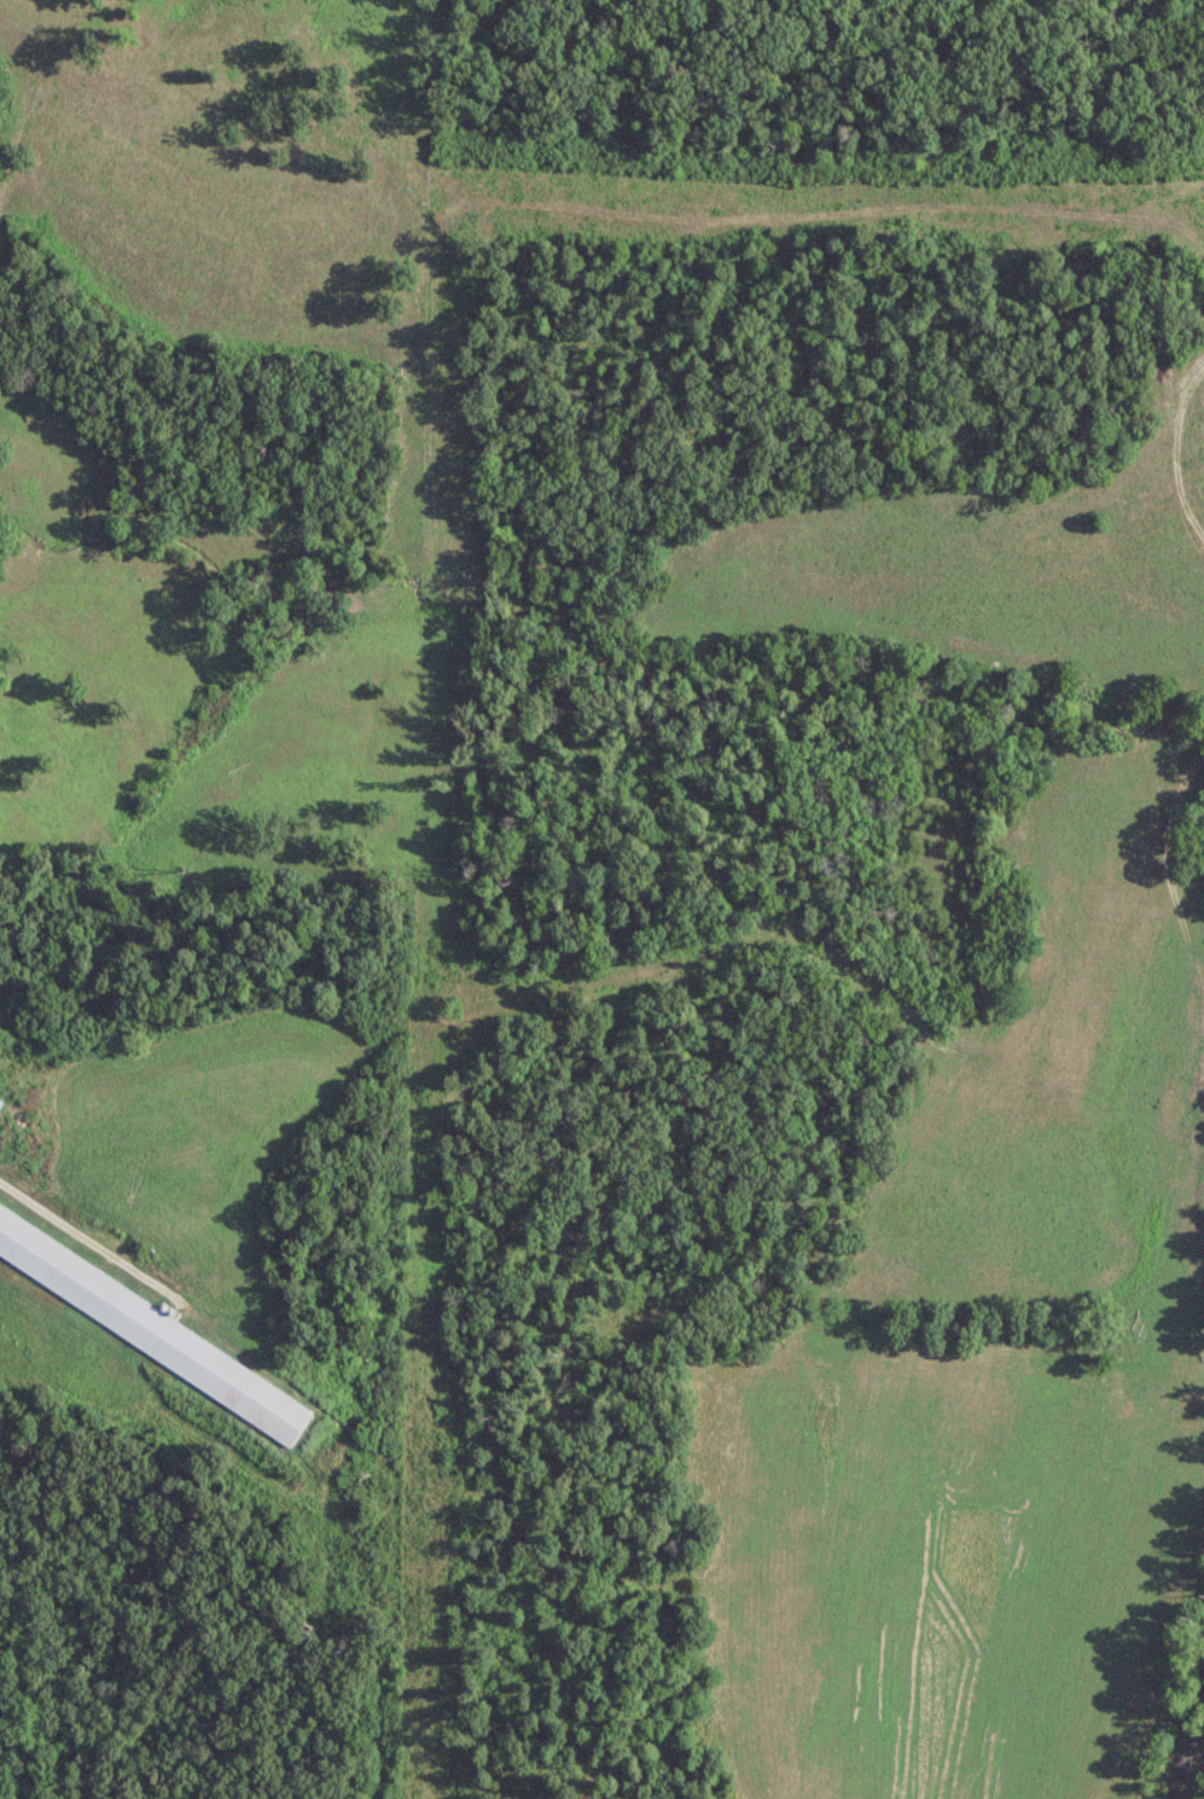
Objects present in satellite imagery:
building: (1, 1104)
road: (60, 1225)
building: (153, 1328)

